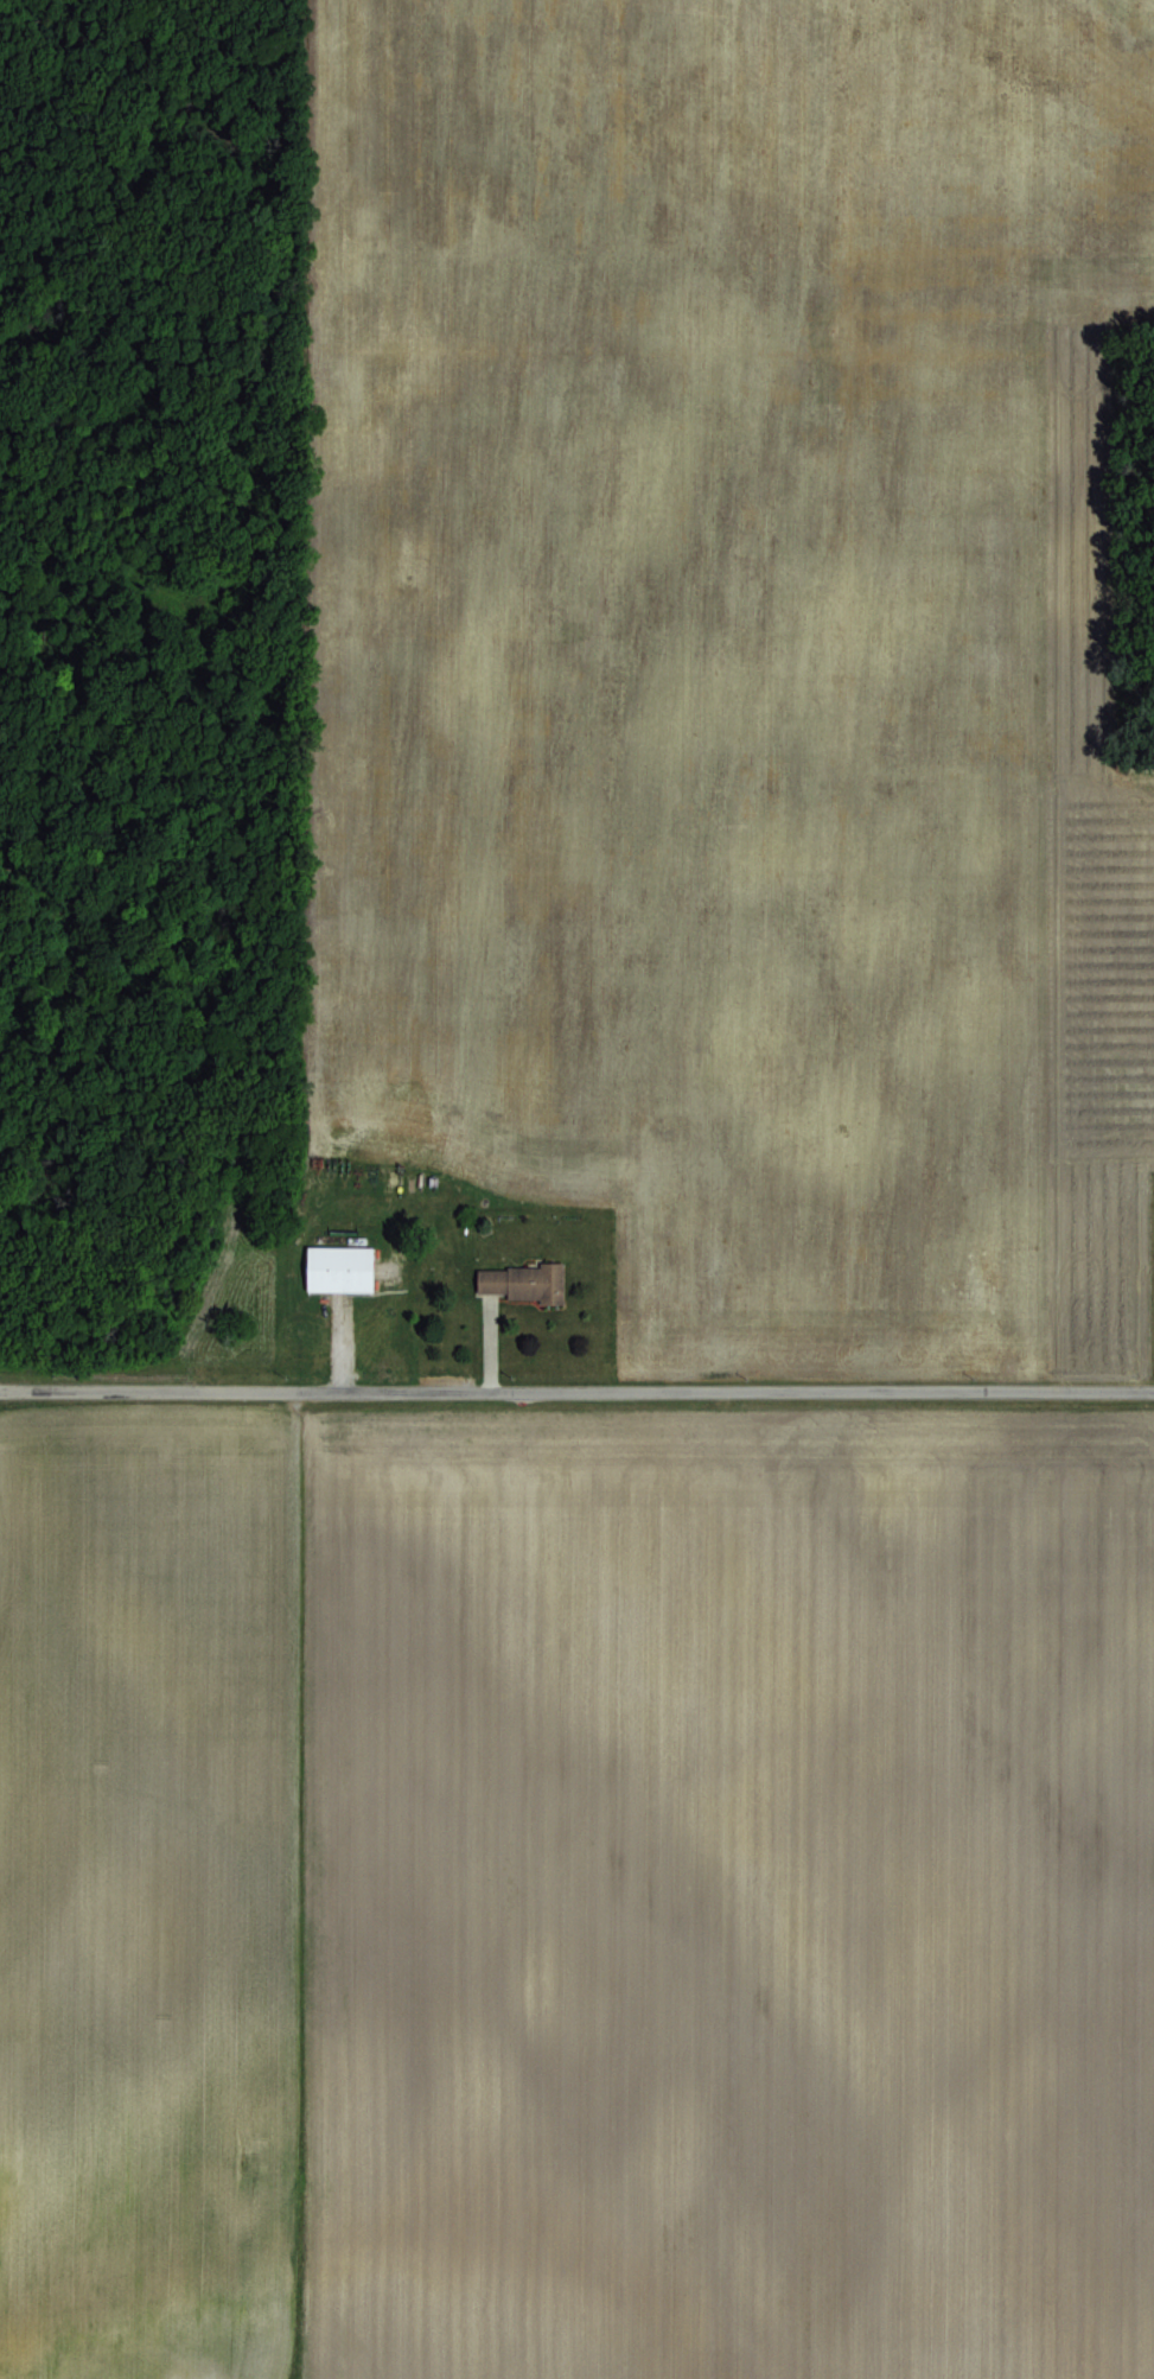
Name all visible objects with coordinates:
road: (576, 1389)

